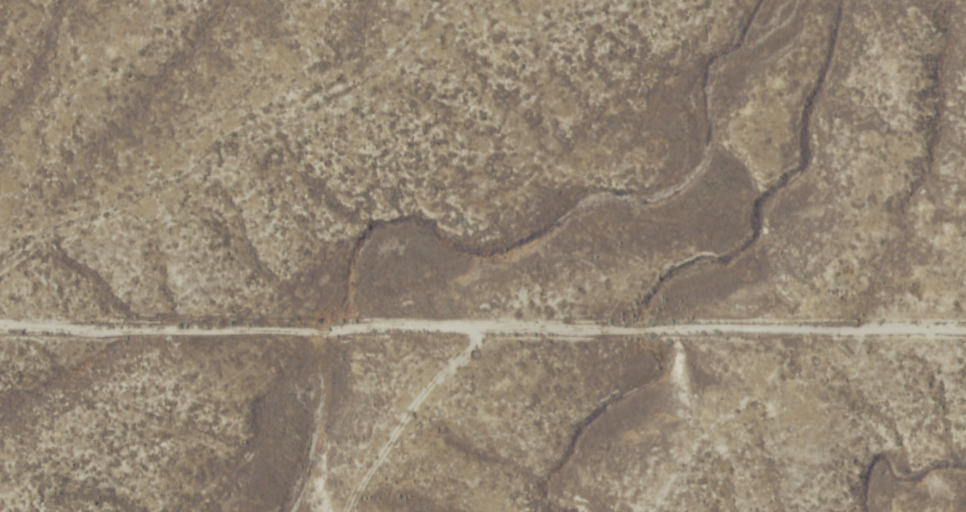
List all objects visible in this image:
road: (483, 302)

